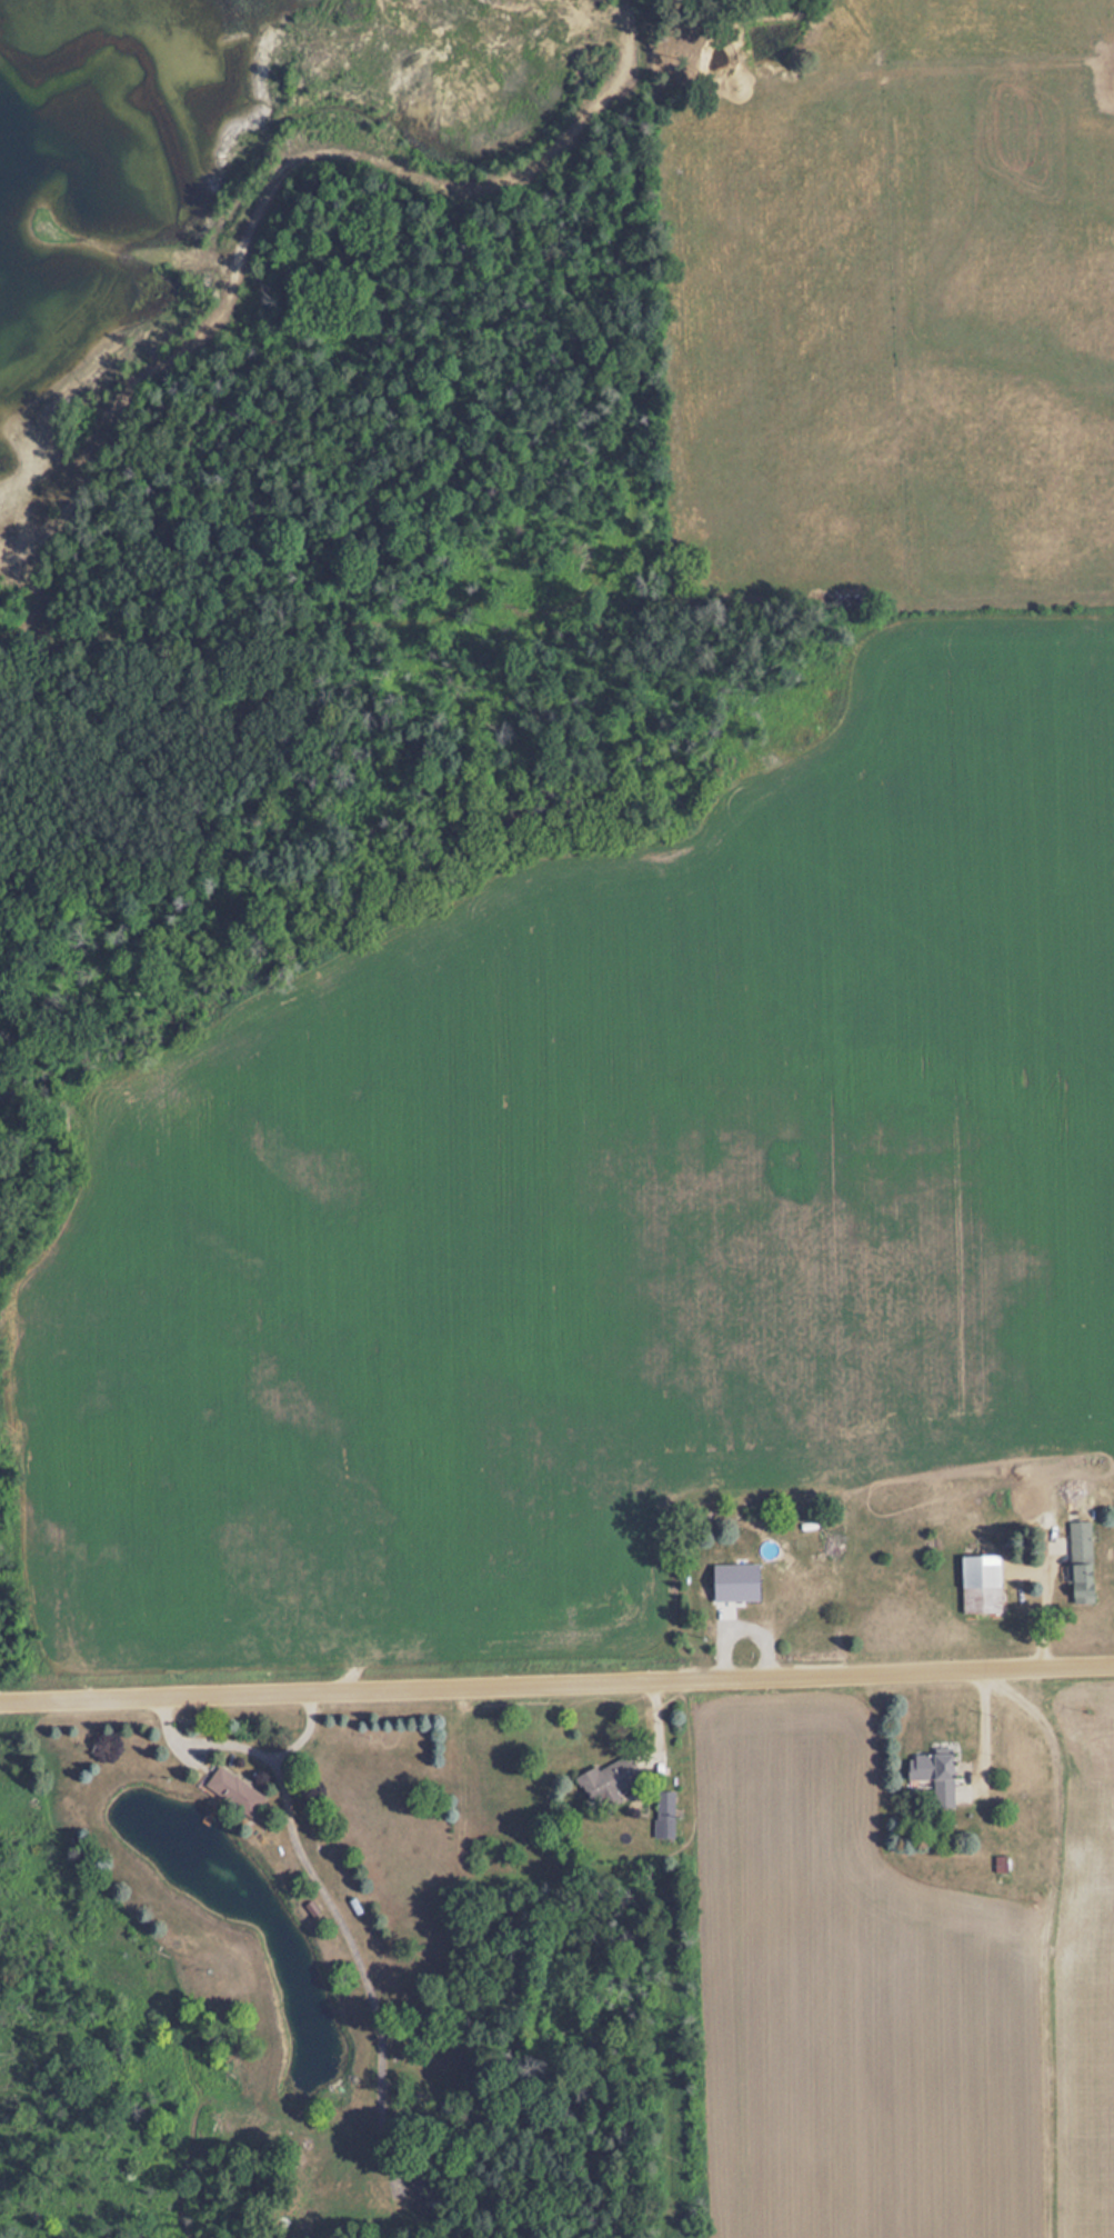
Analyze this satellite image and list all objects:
building: (1080, 1562)
building: (796, 1582)
building: (981, 1583)
road: (556, 1686)
building: (609, 1779)
building: (943, 1779)
building: (233, 1791)
building: (665, 1804)

